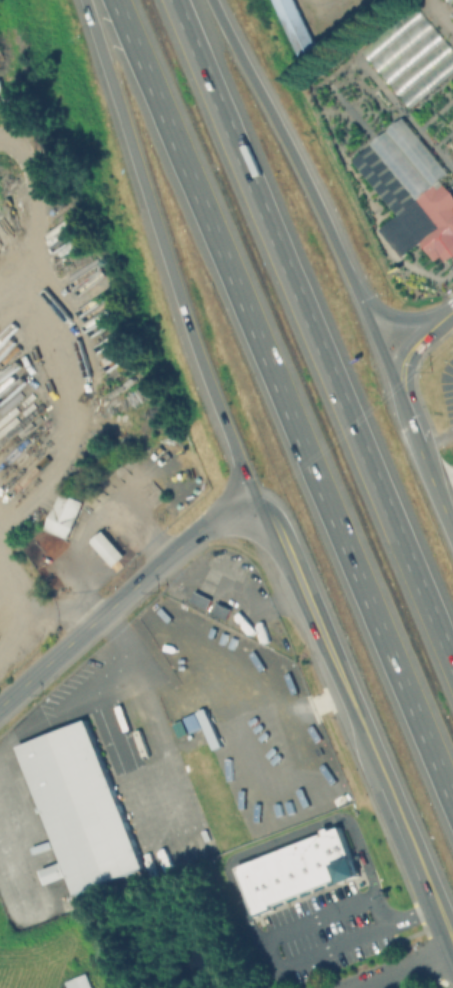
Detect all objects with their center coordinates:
building: (447, 0)
road: (326, 7)
building: (292, 23)
building: (412, 58)
road: (308, 191)
building: (411, 212)
road: (163, 261)
road: (19, 294)
road: (399, 318)
road: (63, 333)
road: (309, 339)
road: (416, 343)
parking lot: (447, 390)
road: (278, 408)
road: (424, 457)
road: (446, 492)
building: (63, 515)
building: (107, 547)
road: (125, 594)
building: (200, 599)
road: (228, 599)
building: (221, 610)
road: (32, 619)
road: (16, 633)
road: (77, 685)
road: (293, 713)
road: (242, 722)
road: (148, 737)
road: (360, 740)
building: (79, 807)
road: (284, 839)
building: (341, 855)
building: (324, 859)
building: (310, 864)
building: (297, 869)
road: (13, 872)
building: (284, 875)
building: (270, 880)
building: (255, 888)
parking lot: (322, 933)
road: (275, 934)
road: (403, 968)
building: (79, 982)

